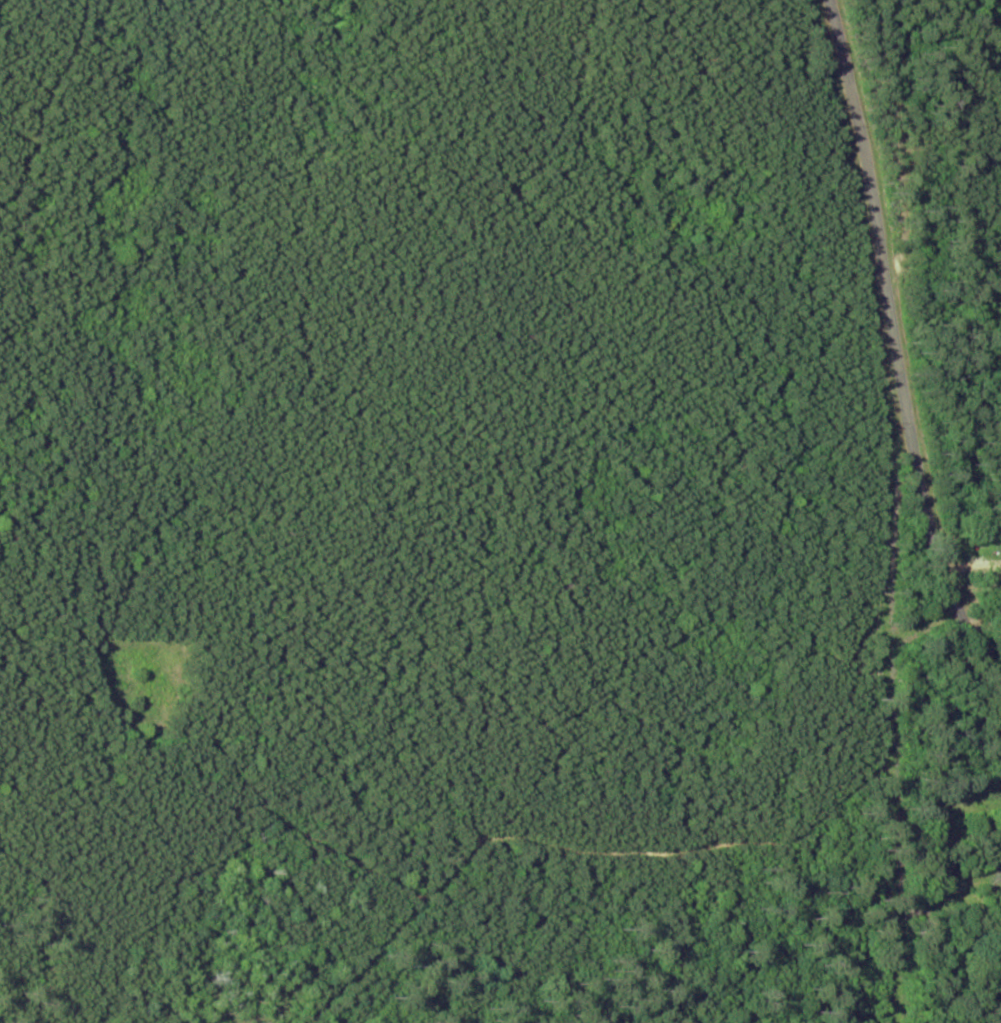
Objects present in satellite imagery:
road: (909, 343)
road: (918, 899)

